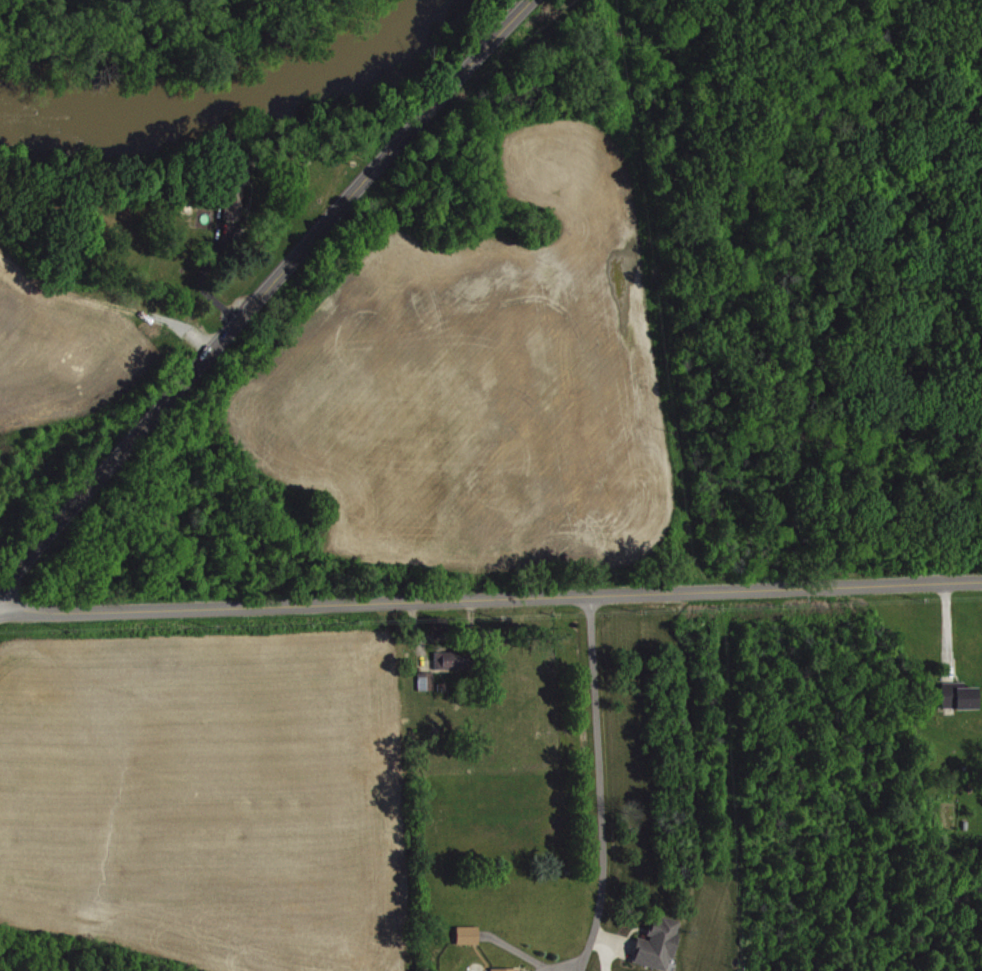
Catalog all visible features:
river: (232, 107)
building: (232, 189)
road: (200, 272)
road: (261, 291)
crop: (50, 370)
road: (490, 596)
road: (414, 634)
building: (450, 657)
building: (422, 678)
building: (961, 695)
road: (599, 783)
building: (470, 934)
building: (657, 940)
building: (507, 969)
building: (625, 970)

